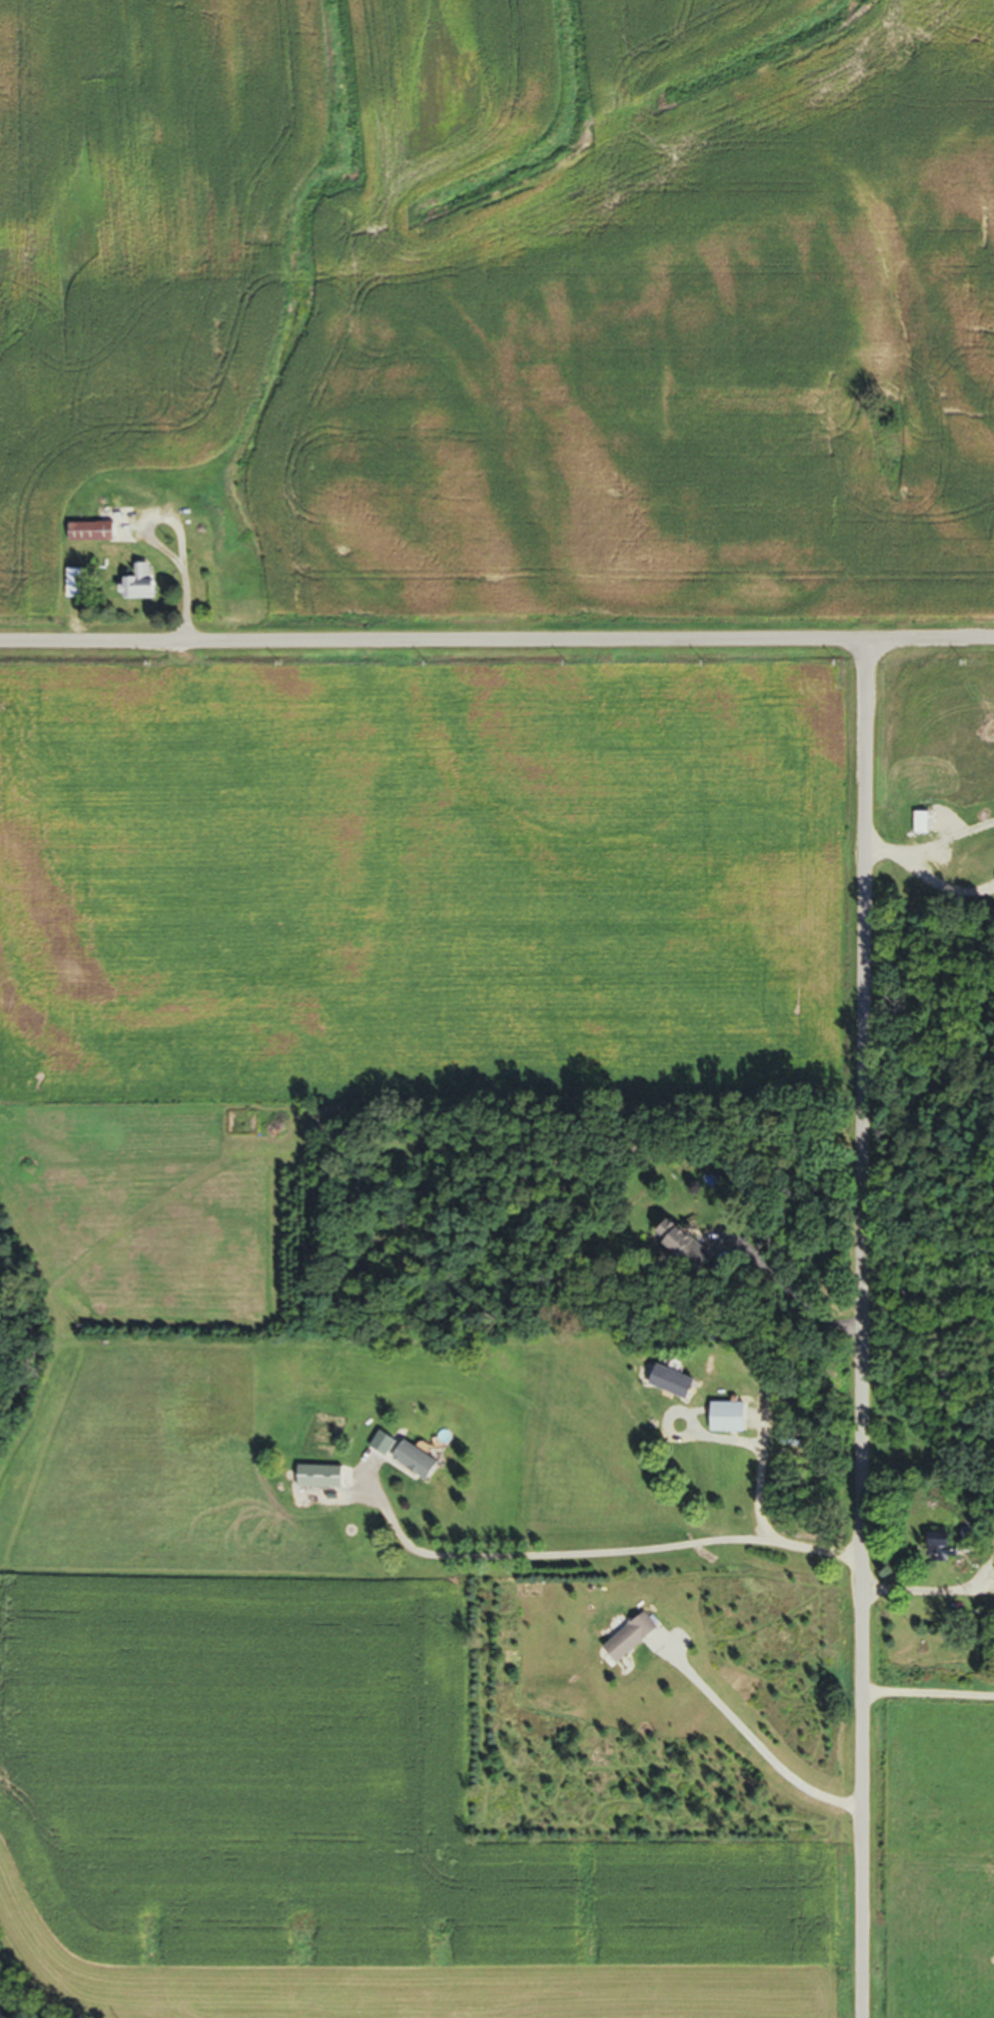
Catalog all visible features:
building: (91, 537)
building: (74, 588)
building: (141, 589)
road: (497, 640)
building: (920, 828)
building: (934, 892)
road: (862, 1328)
building: (726, 1423)
building: (417, 1467)
building: (722, 1469)
building: (321, 1483)
road: (751, 1493)
building: (940, 1546)
road: (586, 1558)
building: (631, 1645)
road: (928, 1700)
road: (751, 1748)

